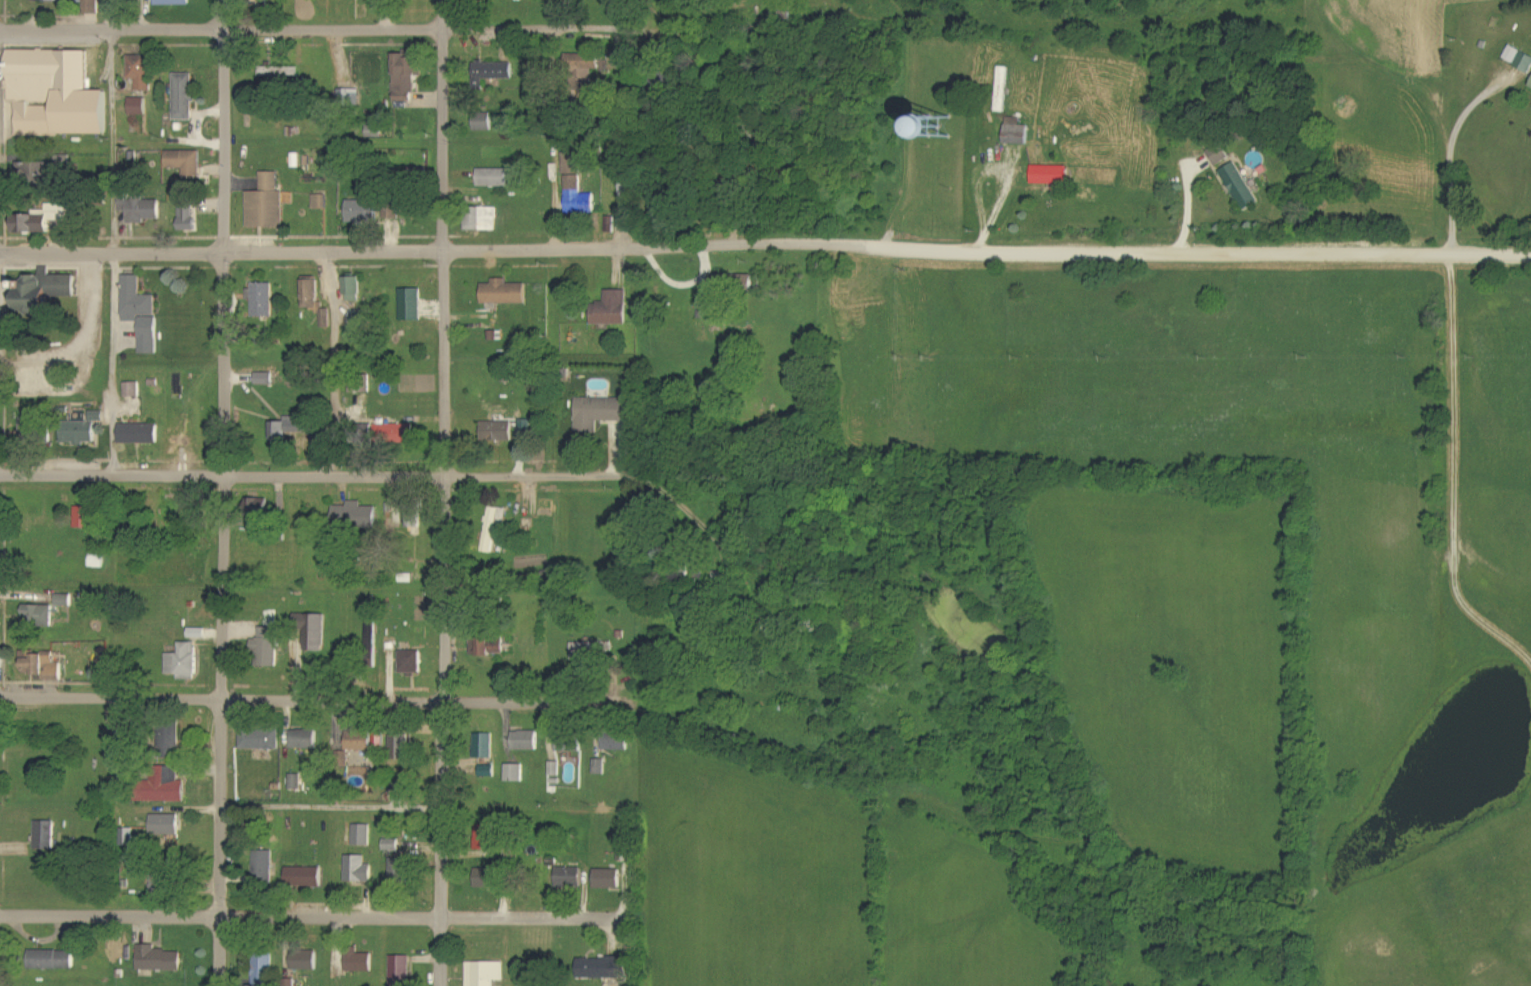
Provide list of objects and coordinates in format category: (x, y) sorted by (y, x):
building: (53, 1)
building: (173, 2)
road: (374, 32)
building: (1519, 59)
building: (584, 66)
building: (490, 72)
building: (142, 73)
building: (406, 77)
building: (1003, 90)
building: (56, 95)
building: (184, 97)
building: (138, 107)
building: (484, 122)
building: (957, 129)
building: (1018, 133)
building: (1220, 154)
road: (1450, 156)
building: (185, 163)
building: (33, 168)
building: (1052, 176)
building: (493, 178)
building: (1241, 187)
building: (577, 188)
building: (319, 202)
building: (267, 204)
building: (142, 210)
building: (187, 212)
building: (364, 212)
building: (391, 215)
building: (40, 220)
building: (484, 220)
road: (114, 238)
road: (765, 251)
building: (735, 282)
building: (354, 290)
building: (45, 292)
building: (505, 294)
building: (262, 300)
building: (136, 301)
building: (316, 302)
building: (411, 305)
building: (612, 310)
building: (149, 336)
road: (330, 361)
building: (265, 379)
building: (133, 390)
building: (602, 414)
building: (31, 428)
building: (288, 430)
building: (498, 432)
building: (79, 433)
building: (396, 434)
building: (140, 435)
road: (1454, 473)
road: (388, 474)
road: (222, 492)
road: (442, 492)
building: (356, 517)
building: (494, 531)
building: (65, 601)
building: (39, 616)
building: (313, 632)
building: (371, 632)
building: (489, 647)
building: (267, 648)
building: (591, 653)
building: (184, 663)
building: (411, 663)
building: (43, 667)
road: (325, 698)
building: (305, 740)
building: (171, 741)
building: (261, 741)
building: (525, 741)
building: (365, 742)
building: (567, 744)
building: (616, 745)
building: (401, 746)
building: (485, 747)
building: (599, 767)
building: (555, 770)
building: (515, 774)
building: (296, 782)
building: (164, 787)
building: (165, 825)
building: (45, 836)
building: (362, 836)
building: (391, 846)
building: (263, 867)
building: (359, 871)
building: (400, 871)
building: (305, 878)
building: (570, 878)
building: (491, 880)
building: (608, 880)
road: (297, 919)
building: (52, 961)
building: (159, 961)
building: (305, 962)
building: (360, 964)
building: (602, 968)
building: (263, 970)
building: (401, 971)
building: (485, 973)

